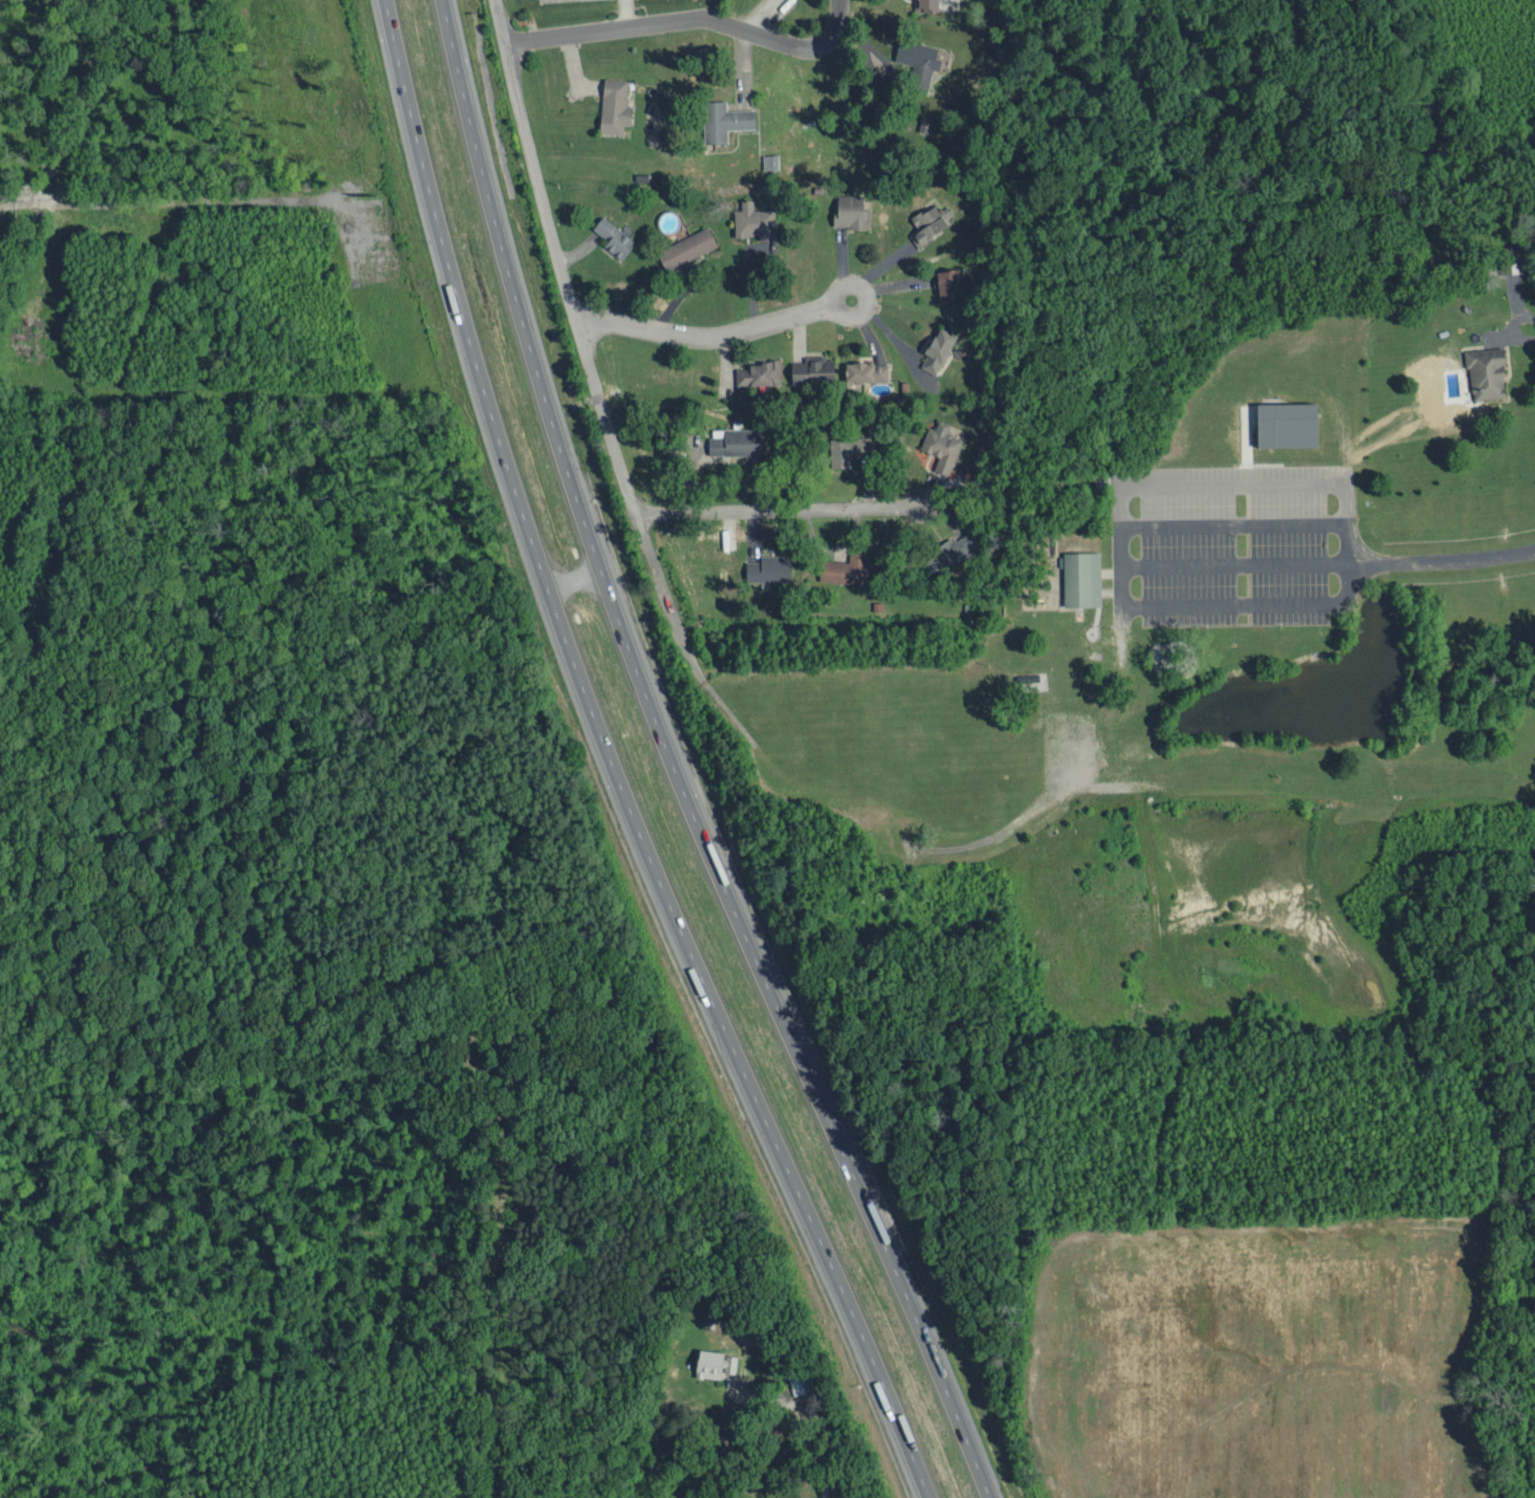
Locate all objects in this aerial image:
parking lot: (541, 0)
building: (927, 4)
road: (686, 20)
building: (920, 59)
building: (616, 105)
building: (726, 119)
building: (771, 160)
building: (851, 210)
building: (755, 220)
building: (930, 222)
building: (615, 237)
building: (687, 247)
building: (949, 284)
road: (578, 331)
road: (711, 334)
building: (937, 349)
building: (815, 369)
building: (868, 371)
building: (1488, 372)
building: (759, 373)
building: (1290, 424)
building: (740, 441)
building: (942, 445)
building: (851, 448)
road: (774, 510)
building: (958, 551)
road: (1449, 561)
building: (848, 567)
building: (770, 568)
building: (1083, 578)
road: (574, 583)
road: (613, 764)
road: (672, 764)
building: (715, 1367)

